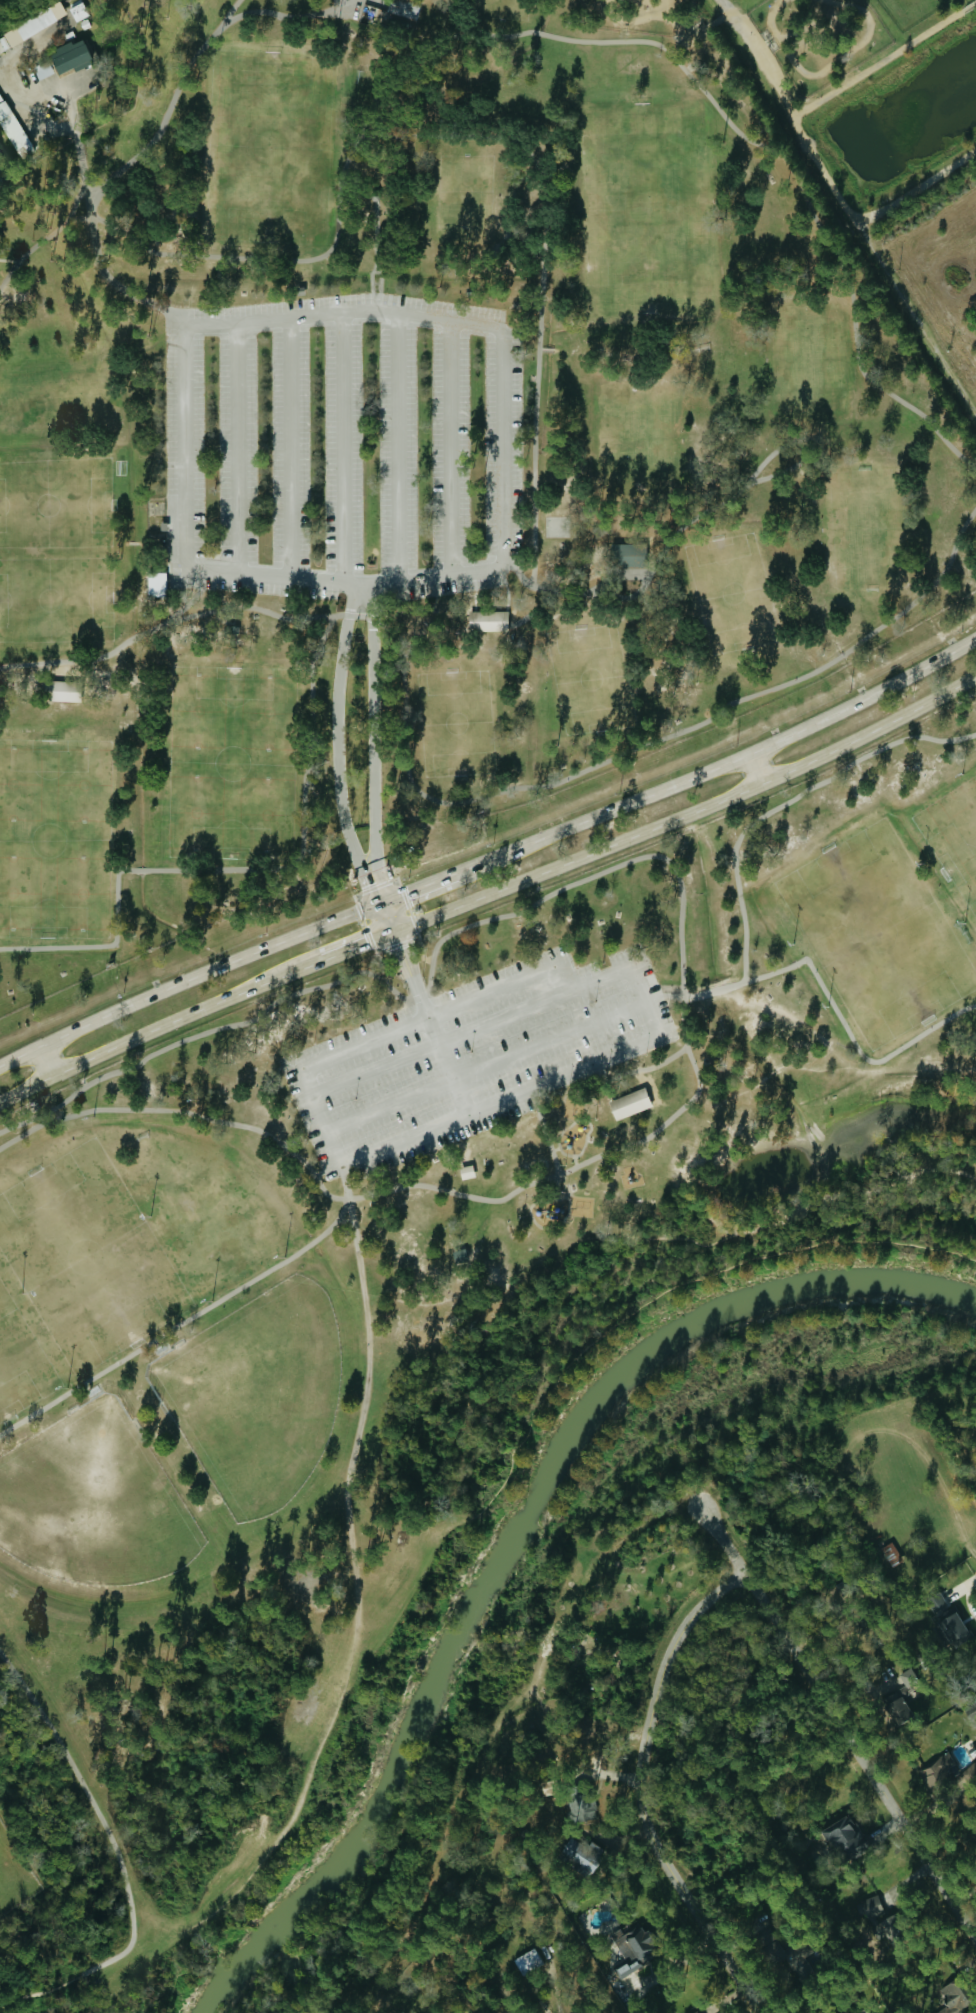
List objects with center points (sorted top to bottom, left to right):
building: (404, 8)
road: (672, 9)
road: (231, 11)
park: (497, 12)
road: (285, 17)
road: (640, 22)
building: (32, 26)
road: (683, 27)
building: (69, 56)
road: (829, 69)
road: (802, 112)
road: (45, 113)
road: (165, 116)
road: (725, 122)
building: (12, 130)
road: (441, 139)
park: (266, 146)
park: (463, 194)
road: (73, 204)
park: (646, 209)
road: (866, 212)
road: (375, 234)
road: (94, 248)
road: (375, 269)
road: (248, 321)
park: (806, 361)
park: (57, 397)
park: (637, 437)
parking lot: (343, 446)
road: (289, 447)
road: (342, 447)
road: (397, 447)
road: (449, 447)
road: (236, 448)
road: (705, 512)
park: (860, 527)
park: (54, 551)
building: (627, 555)
road: (435, 576)
road: (620, 579)
building: (156, 584)
park: (729, 590)
road: (532, 612)
building: (487, 621)
park: (587, 676)
building: (63, 691)
park: (457, 719)
road: (372, 735)
road: (337, 737)
park: (230, 762)
road: (718, 768)
road: (755, 771)
road: (786, 802)
road: (455, 806)
park: (434, 813)
road: (688, 814)
park: (955, 832)
park: (54, 836)
road: (241, 870)
road: (395, 875)
road: (418, 892)
road: (379, 896)
traffic signals: (383, 907)
traffic signals: (393, 932)
park: (879, 934)
road: (357, 945)
road: (405, 962)
road: (680, 971)
road: (187, 978)
road: (564, 978)
road: (693, 997)
road: (643, 1001)
road: (429, 1018)
road: (158, 1028)
road: (468, 1033)
road: (848, 1038)
parking lot: (472, 1055)
road: (45, 1063)
road: (484, 1068)
road: (648, 1069)
road: (605, 1079)
road: (498, 1099)
building: (629, 1108)
road: (542, 1131)
building: (466, 1172)
road: (794, 1210)
park: (203, 1219)
building: (459, 1255)
park: (86, 1257)
road: (639, 1309)
road: (179, 1323)
road: (368, 1344)
park: (21, 1356)
park: (264, 1397)
park: (99, 1513)
river: (516, 1537)
building: (891, 1554)
building: (953, 1629)
road: (353, 1659)
building: (906, 1675)
road: (845, 1729)
building: (947, 1772)
road: (85, 1790)
road: (648, 1793)
building: (843, 1834)
road: (271, 1848)
building: (580, 1853)
wastewater plant: (14, 1875)
building: (870, 1908)
building: (633, 1951)
building: (528, 1961)
building: (953, 2000)
road: (4, 2003)

